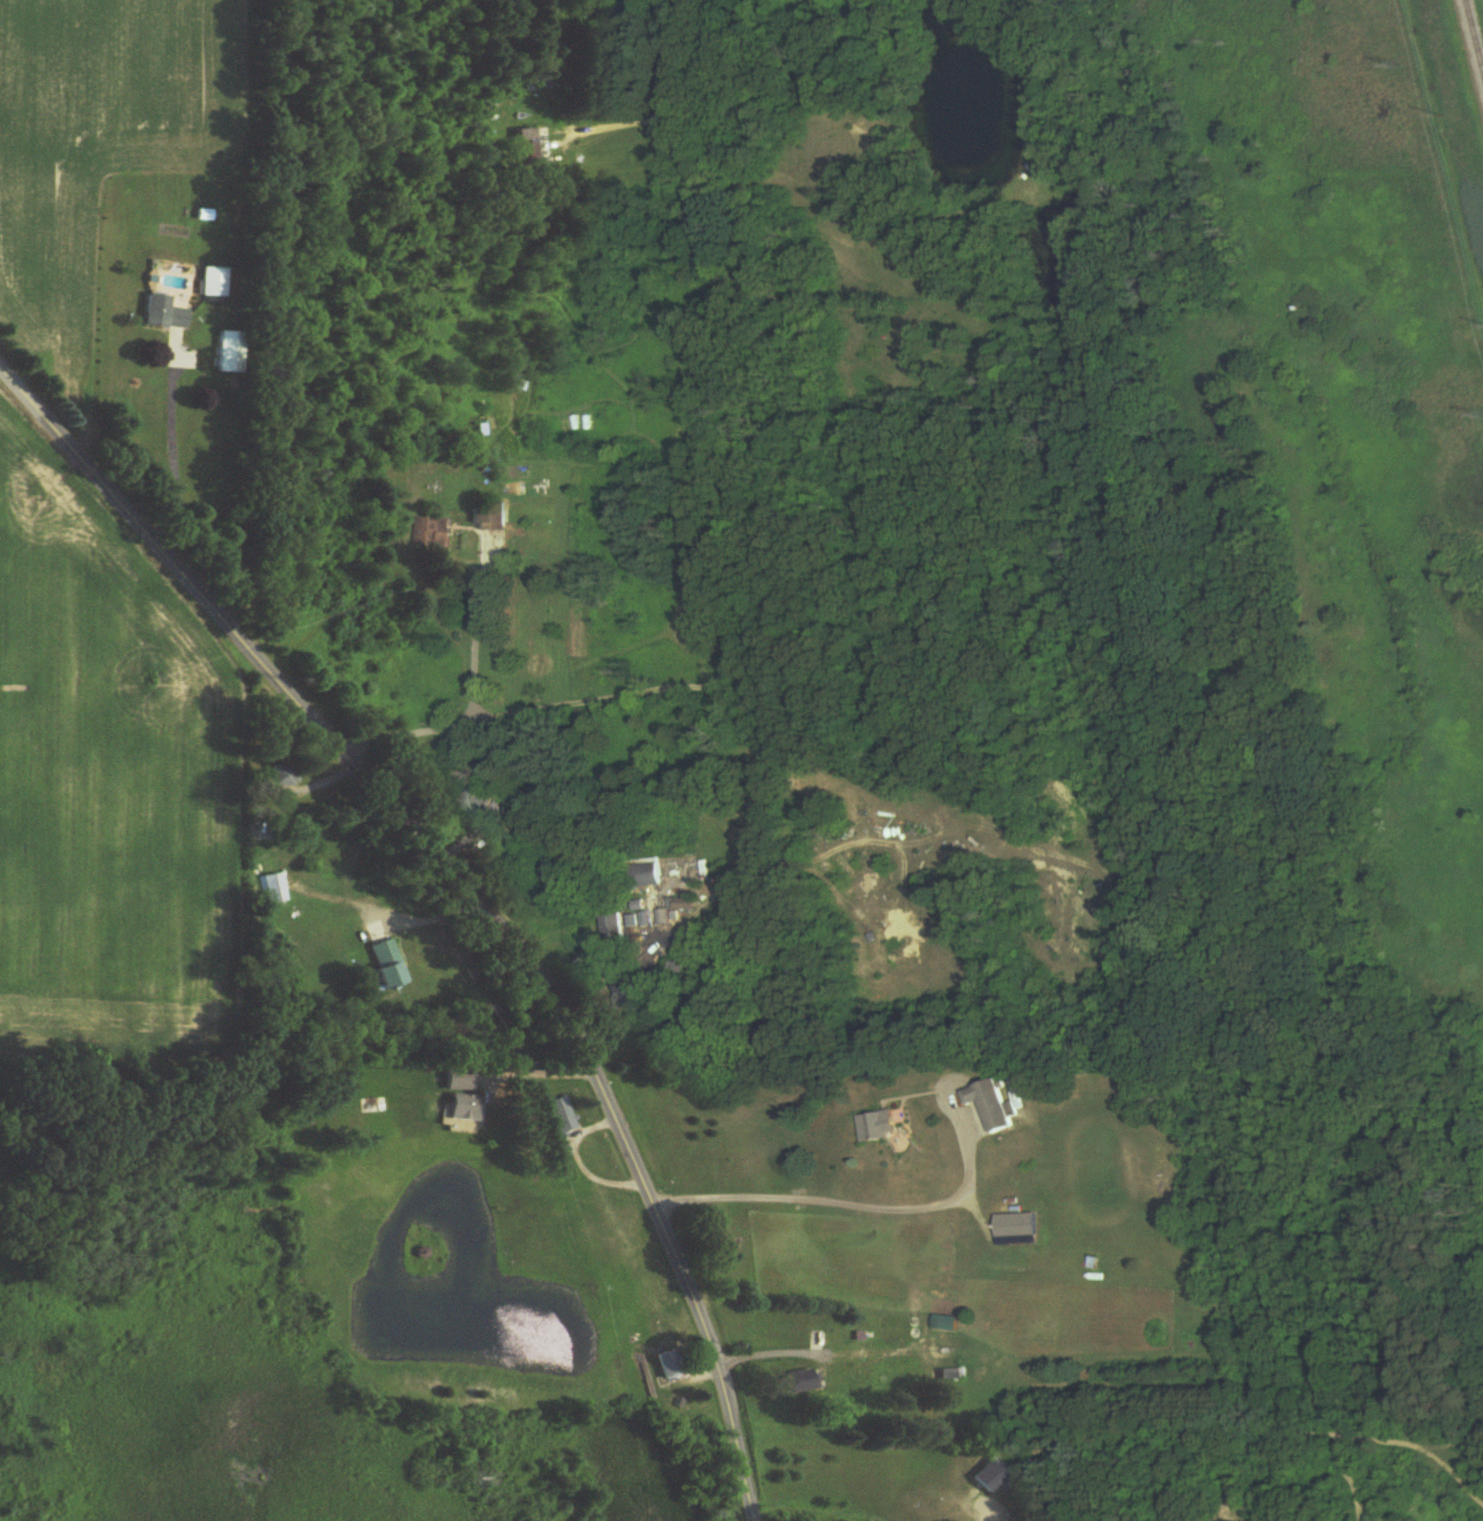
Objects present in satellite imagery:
railway: (1475, 30)
power tower: (1408, 69)
building: (528, 149)
building: (214, 283)
building: (164, 314)
building: (229, 352)
building: (519, 383)
road: (173, 453)
building: (489, 518)
road: (740, 530)
building: (428, 532)
road: (475, 632)
building: (284, 776)
building: (647, 875)
building: (276, 889)
road: (465, 890)
building: (684, 903)
building: (665, 917)
building: (614, 928)
building: (389, 964)
building: (631, 994)
road: (543, 1075)
building: (373, 1106)
building: (991, 1106)
building: (466, 1108)
building: (562, 1117)
building: (878, 1127)
road: (862, 1206)
building: (1016, 1230)
road: (769, 1352)
building: (670, 1364)
building: (802, 1381)
building: (992, 1476)
road: (998, 1518)

